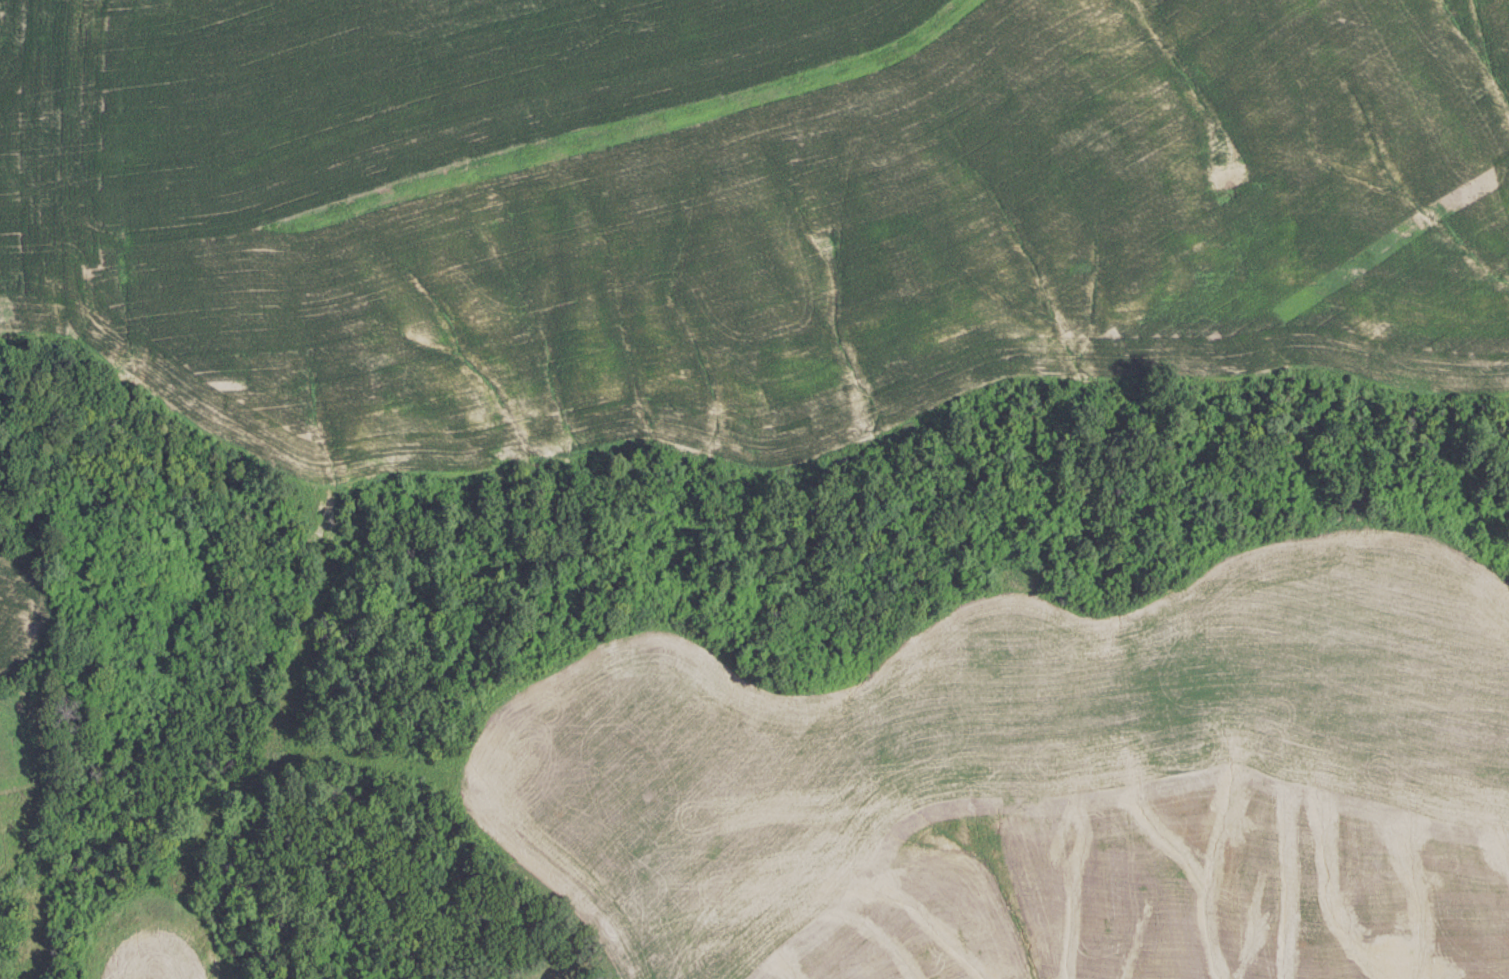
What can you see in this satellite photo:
crop: (766, 220)

